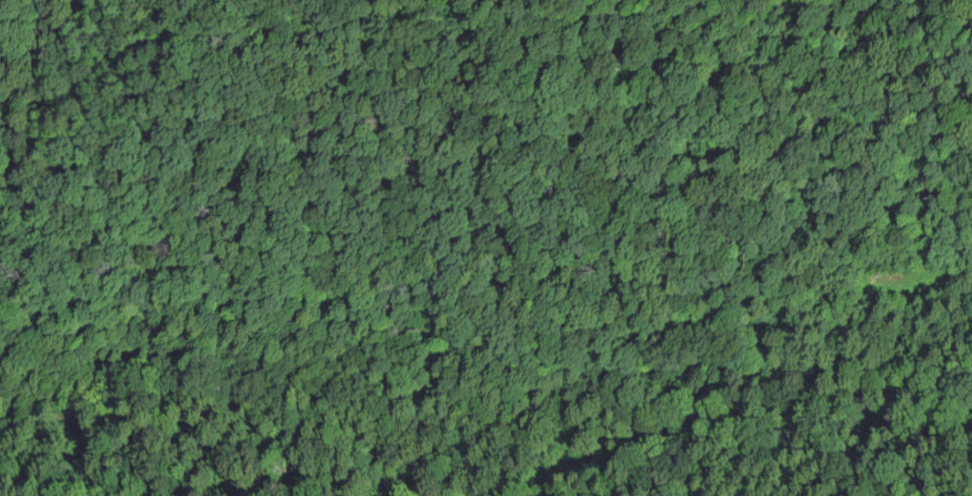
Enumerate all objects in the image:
road: (485, 229)

